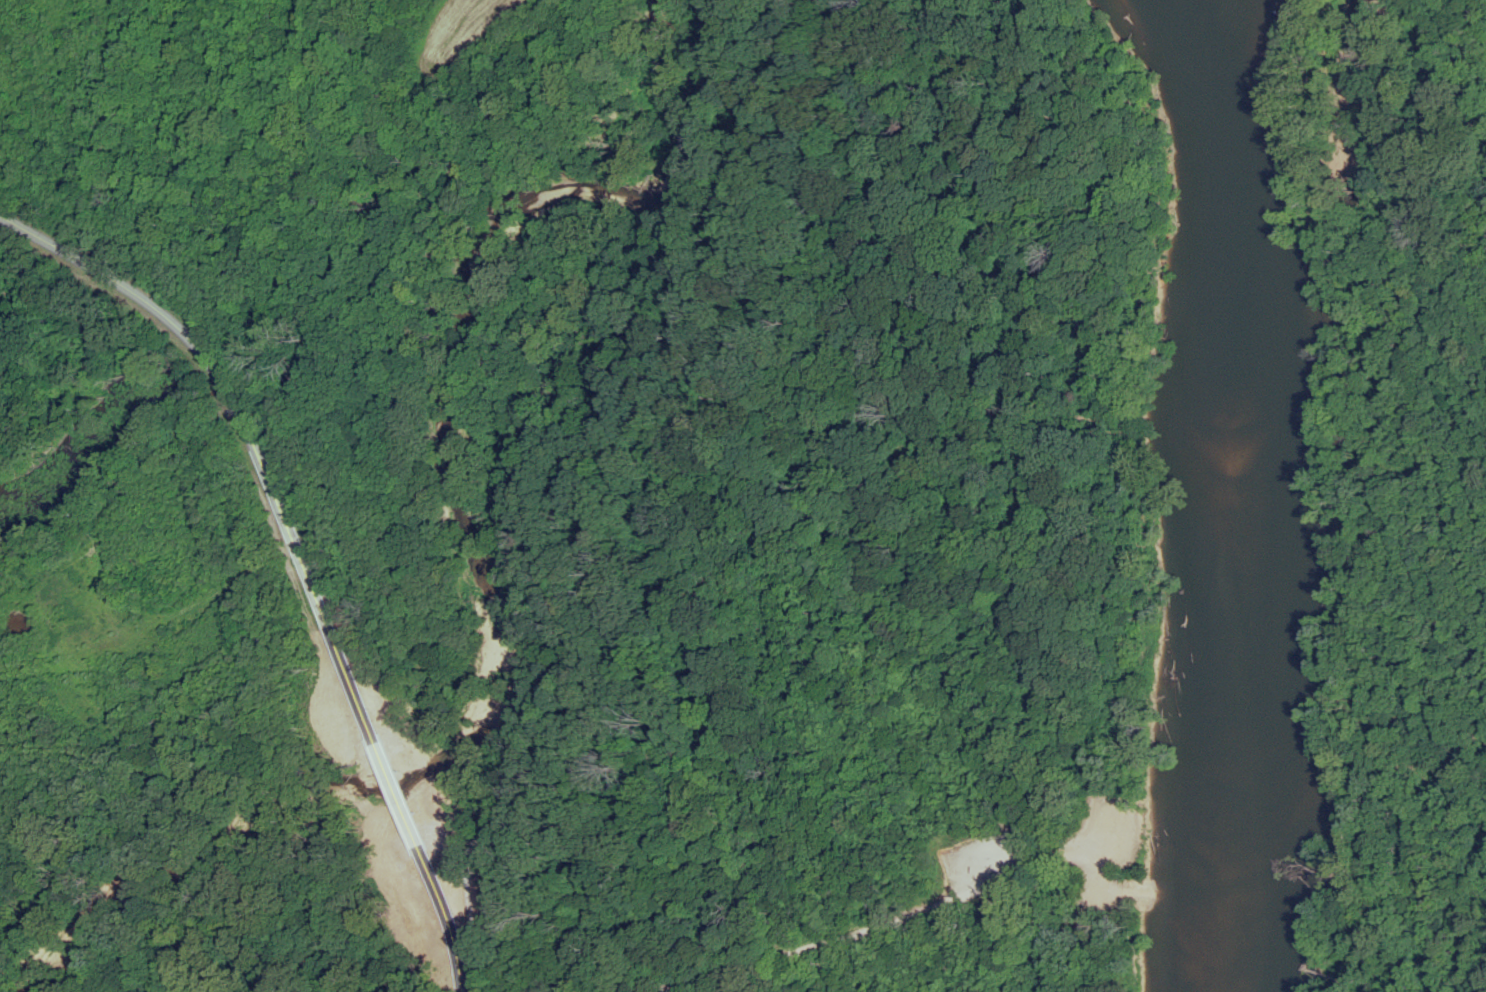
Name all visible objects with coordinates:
road: (402, 484)
river: (1238, 495)
road: (300, 554)
parking lot: (1018, 850)
parking lot: (991, 854)
road: (873, 928)

